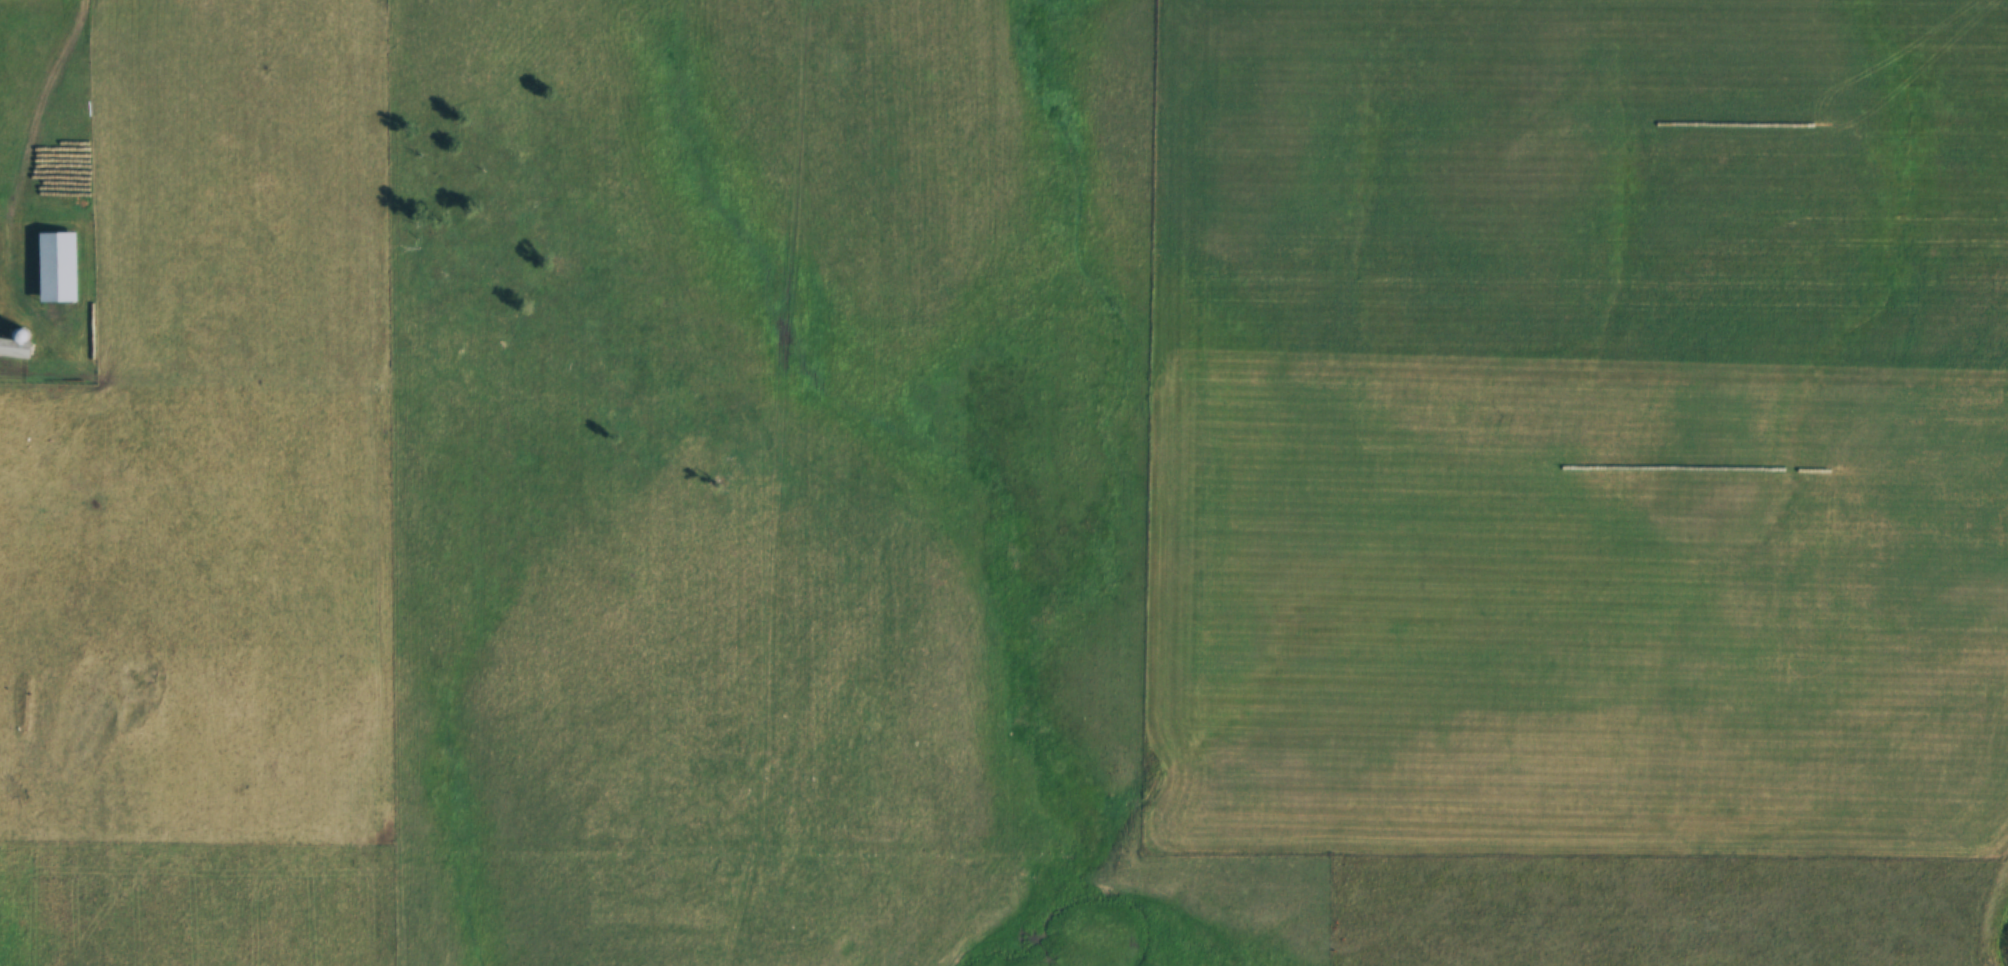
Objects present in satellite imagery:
road: (59, 75)
building: (54, 268)
building: (13, 345)

